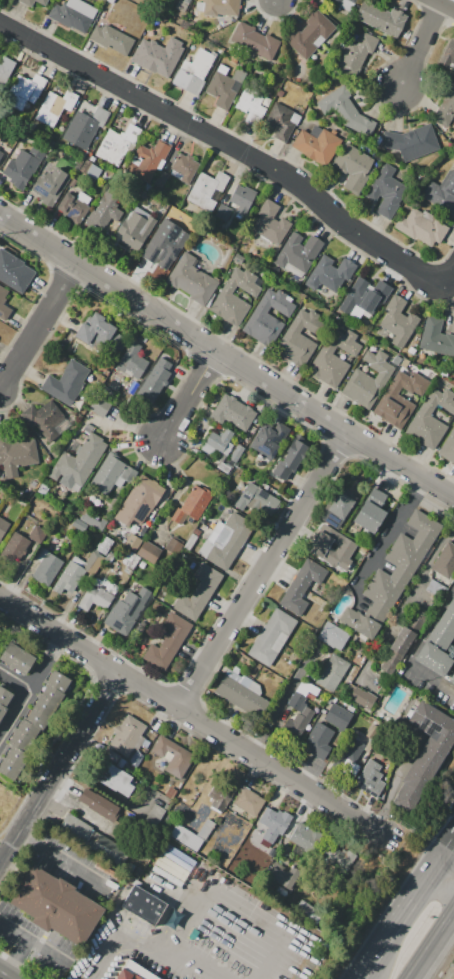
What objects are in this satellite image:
building: (42, 1)
road: (278, 1)
building: (352, 1)
building: (28, 2)
building: (334, 2)
road: (446, 3)
building: (182, 5)
building: (222, 8)
building: (73, 15)
building: (382, 18)
building: (311, 34)
building: (111, 39)
building: (254, 41)
road: (422, 44)
building: (353, 52)
building: (449, 52)
building: (153, 60)
building: (5, 68)
building: (197, 70)
building: (225, 86)
building: (24, 91)
building: (250, 104)
building: (54, 107)
building: (445, 107)
building: (346, 110)
building: (280, 121)
building: (85, 126)
building: (411, 142)
building: (118, 144)
building: (317, 144)
road: (232, 147)
building: (0, 151)
building: (1, 153)
building: (148, 160)
building: (22, 167)
building: (353, 167)
building: (184, 168)
building: (161, 178)
building: (50, 186)
building: (206, 190)
building: (387, 191)
building: (441, 195)
building: (242, 198)
building: (74, 207)
building: (107, 208)
building: (222, 213)
building: (171, 218)
building: (271, 224)
building: (422, 228)
building: (135, 229)
building: (171, 247)
building: (299, 251)
building: (16, 267)
building: (330, 273)
building: (192, 279)
building: (362, 295)
building: (3, 296)
building: (226, 296)
building: (267, 315)
building: (398, 321)
road: (38, 325)
road: (174, 325)
building: (99, 332)
building: (300, 336)
building: (436, 338)
building: (411, 350)
building: (333, 357)
building: (396, 360)
building: (131, 363)
building: (404, 363)
building: (368, 380)
building: (66, 382)
building: (153, 383)
building: (407, 383)
road: (189, 396)
building: (99, 406)
building: (234, 412)
building: (396, 412)
building: (45, 416)
building: (431, 419)
road: (132, 425)
building: (217, 441)
building: (267, 443)
building: (449, 448)
building: (236, 452)
building: (16, 455)
building: (291, 458)
building: (80, 460)
road: (402, 468)
building: (112, 473)
building: (260, 499)
building: (140, 501)
building: (193, 504)
building: (338, 508)
building: (370, 511)
building: (93, 522)
building: (79, 525)
building: (3, 527)
road: (389, 532)
building: (37, 534)
building: (225, 540)
building: (104, 545)
building: (16, 547)
building: (142, 548)
building: (320, 549)
building: (130, 559)
building: (90, 561)
building: (445, 561)
building: (400, 564)
building: (47, 569)
road: (263, 570)
building: (69, 579)
building: (300, 585)
road: (410, 589)
building: (436, 589)
building: (199, 592)
building: (95, 597)
building: (126, 610)
building: (359, 623)
building: (444, 627)
building: (270, 633)
building: (333, 635)
building: (167, 642)
road: (414, 648)
building: (397, 651)
building: (16, 658)
building: (432, 659)
building: (332, 672)
road: (16, 678)
building: (452, 678)
road: (32, 689)
building: (302, 695)
building: (362, 695)
building: (5, 696)
building: (242, 696)
road: (279, 705)
road: (192, 714)
building: (337, 714)
building: (299, 720)
building: (34, 723)
building: (127, 735)
building: (317, 740)
building: (349, 748)
building: (425, 752)
building: (183, 756)
road: (61, 766)
building: (112, 777)
building: (195, 778)
building: (370, 782)
road: (390, 785)
building: (220, 796)
building: (249, 801)
building: (99, 804)
road: (87, 811)
building: (154, 815)
building: (274, 821)
building: (77, 826)
building: (191, 835)
building: (304, 837)
road: (448, 856)
road: (63, 858)
building: (336, 858)
parking lot: (74, 864)
road: (448, 869)
building: (281, 875)
building: (145, 903)
building: (57, 904)
building: (307, 910)
road: (404, 922)
road: (34, 940)
parking lot: (35, 940)
road: (121, 942)
road: (432, 948)
road: (271, 957)
road: (18, 958)
road: (192, 960)
road: (21, 965)
building: (135, 971)
road: (3, 977)

